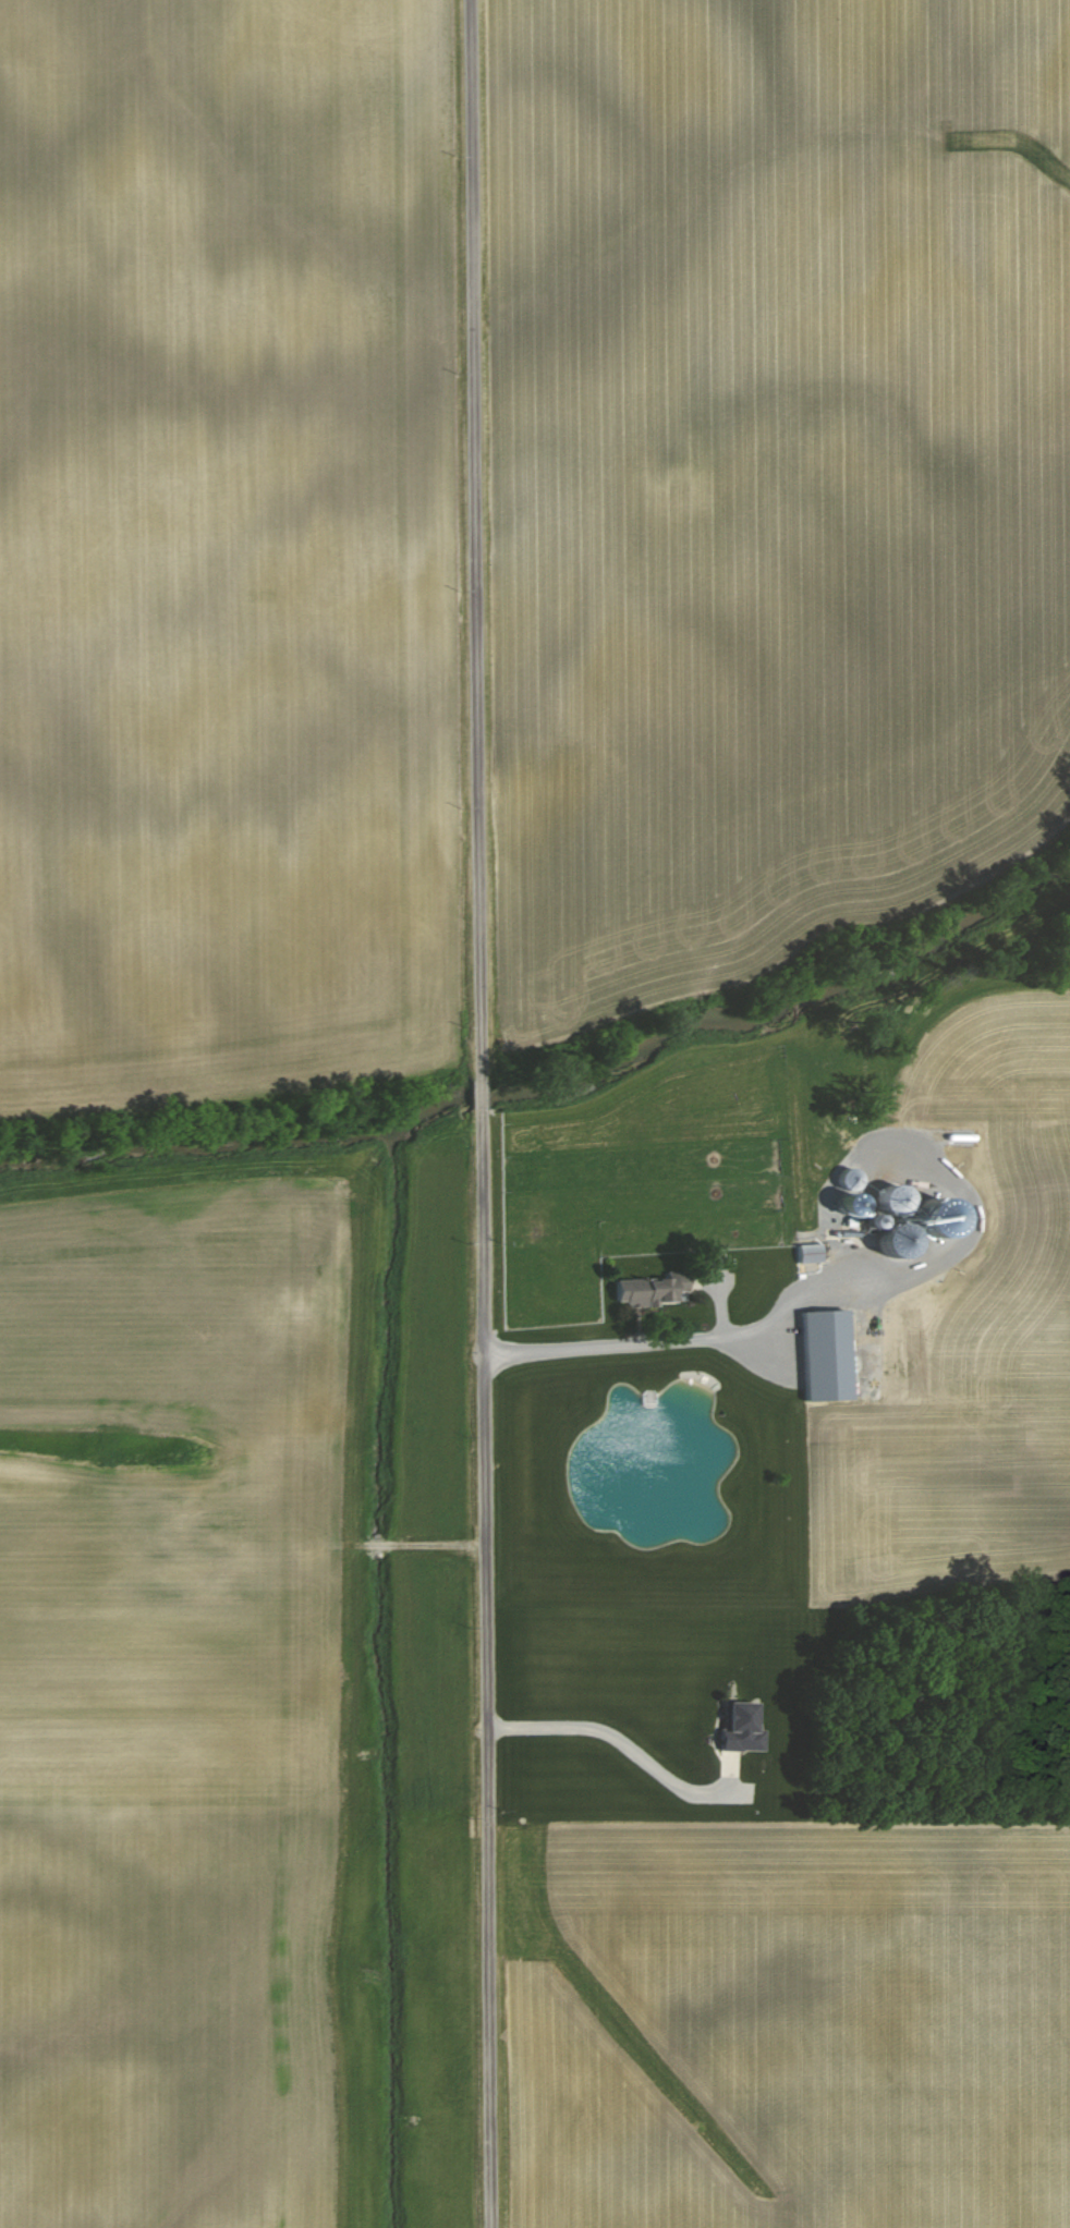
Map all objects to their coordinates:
road: (484, 1113)
building: (890, 1198)
building: (849, 1205)
building: (657, 1288)
road: (805, 1290)
building: (825, 1353)
road: (619, 1720)

